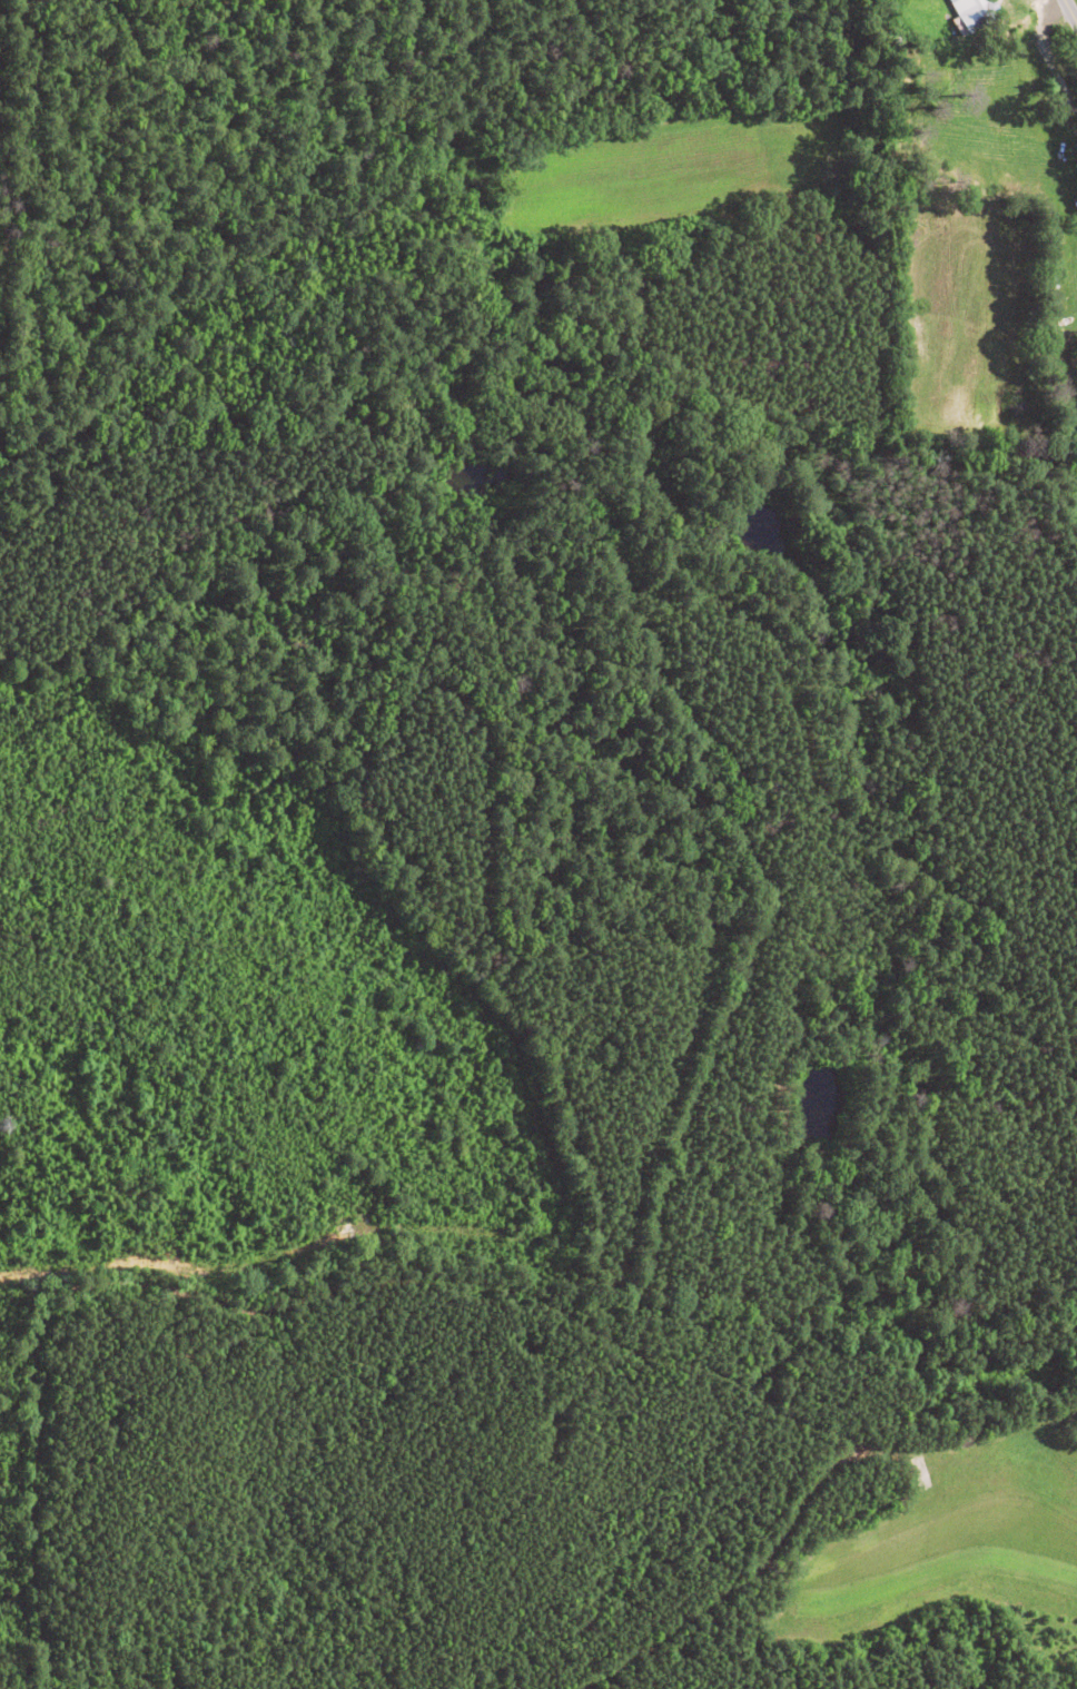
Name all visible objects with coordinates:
building: (974, 12)
road: (1057, 39)

